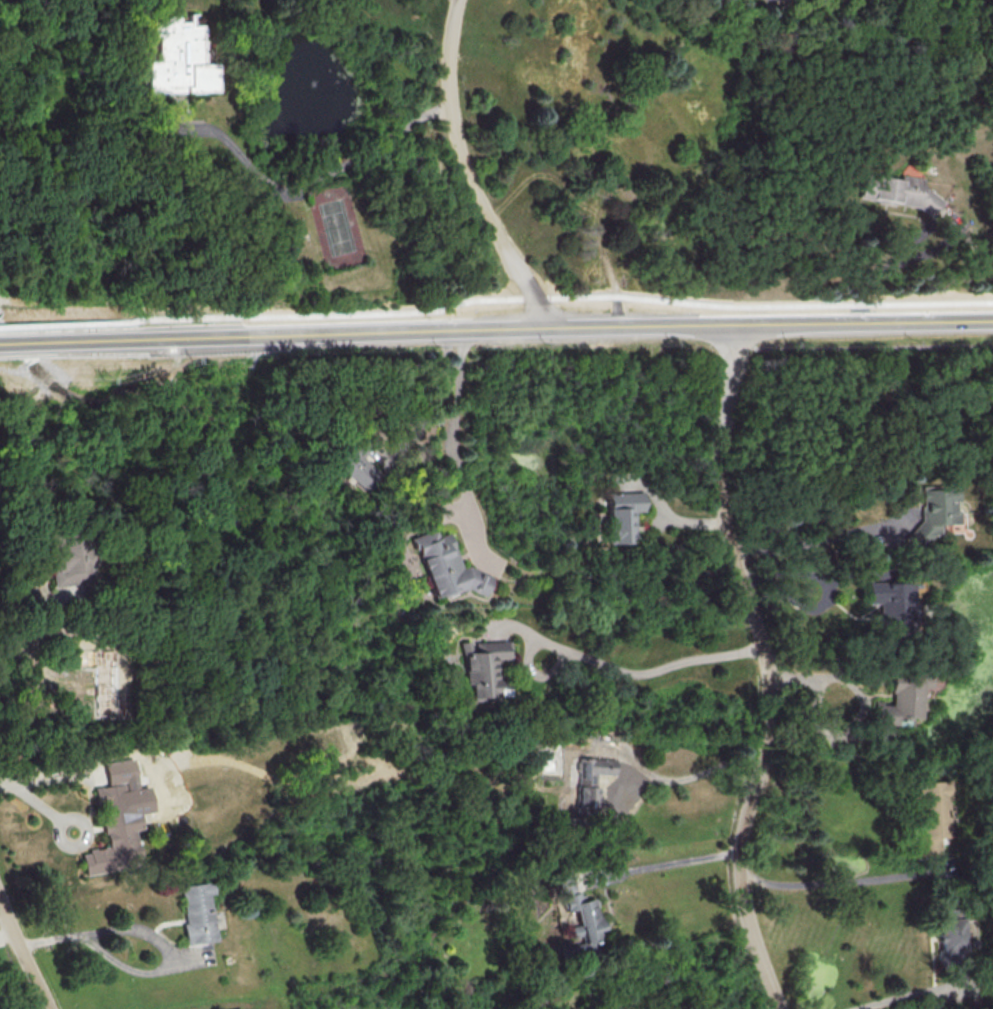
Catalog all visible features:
building: (177, 58)
road: (467, 172)
road: (310, 180)
building: (898, 191)
road: (889, 263)
road: (611, 279)
road: (561, 296)
road: (66, 323)
road: (496, 328)
river: (15, 343)
road: (450, 432)
building: (352, 467)
building: (934, 514)
building: (621, 516)
road: (821, 540)
building: (66, 561)
building: (441, 565)
road: (850, 570)
road: (829, 590)
building: (890, 598)
road: (20, 601)
road: (44, 636)
building: (478, 665)
road: (607, 665)
road: (768, 668)
building: (108, 685)
building: (902, 698)
road: (861, 705)
road: (691, 774)
road: (42, 776)
building: (589, 781)
road: (32, 801)
building: (931, 811)
building: (118, 818)
road: (57, 832)
road: (668, 862)
road: (828, 882)
building: (578, 910)
building: (196, 912)
building: (948, 933)
road: (151, 934)
road: (10, 939)
road: (25, 954)
road: (717, 982)
road: (891, 999)
road: (568, 1003)

